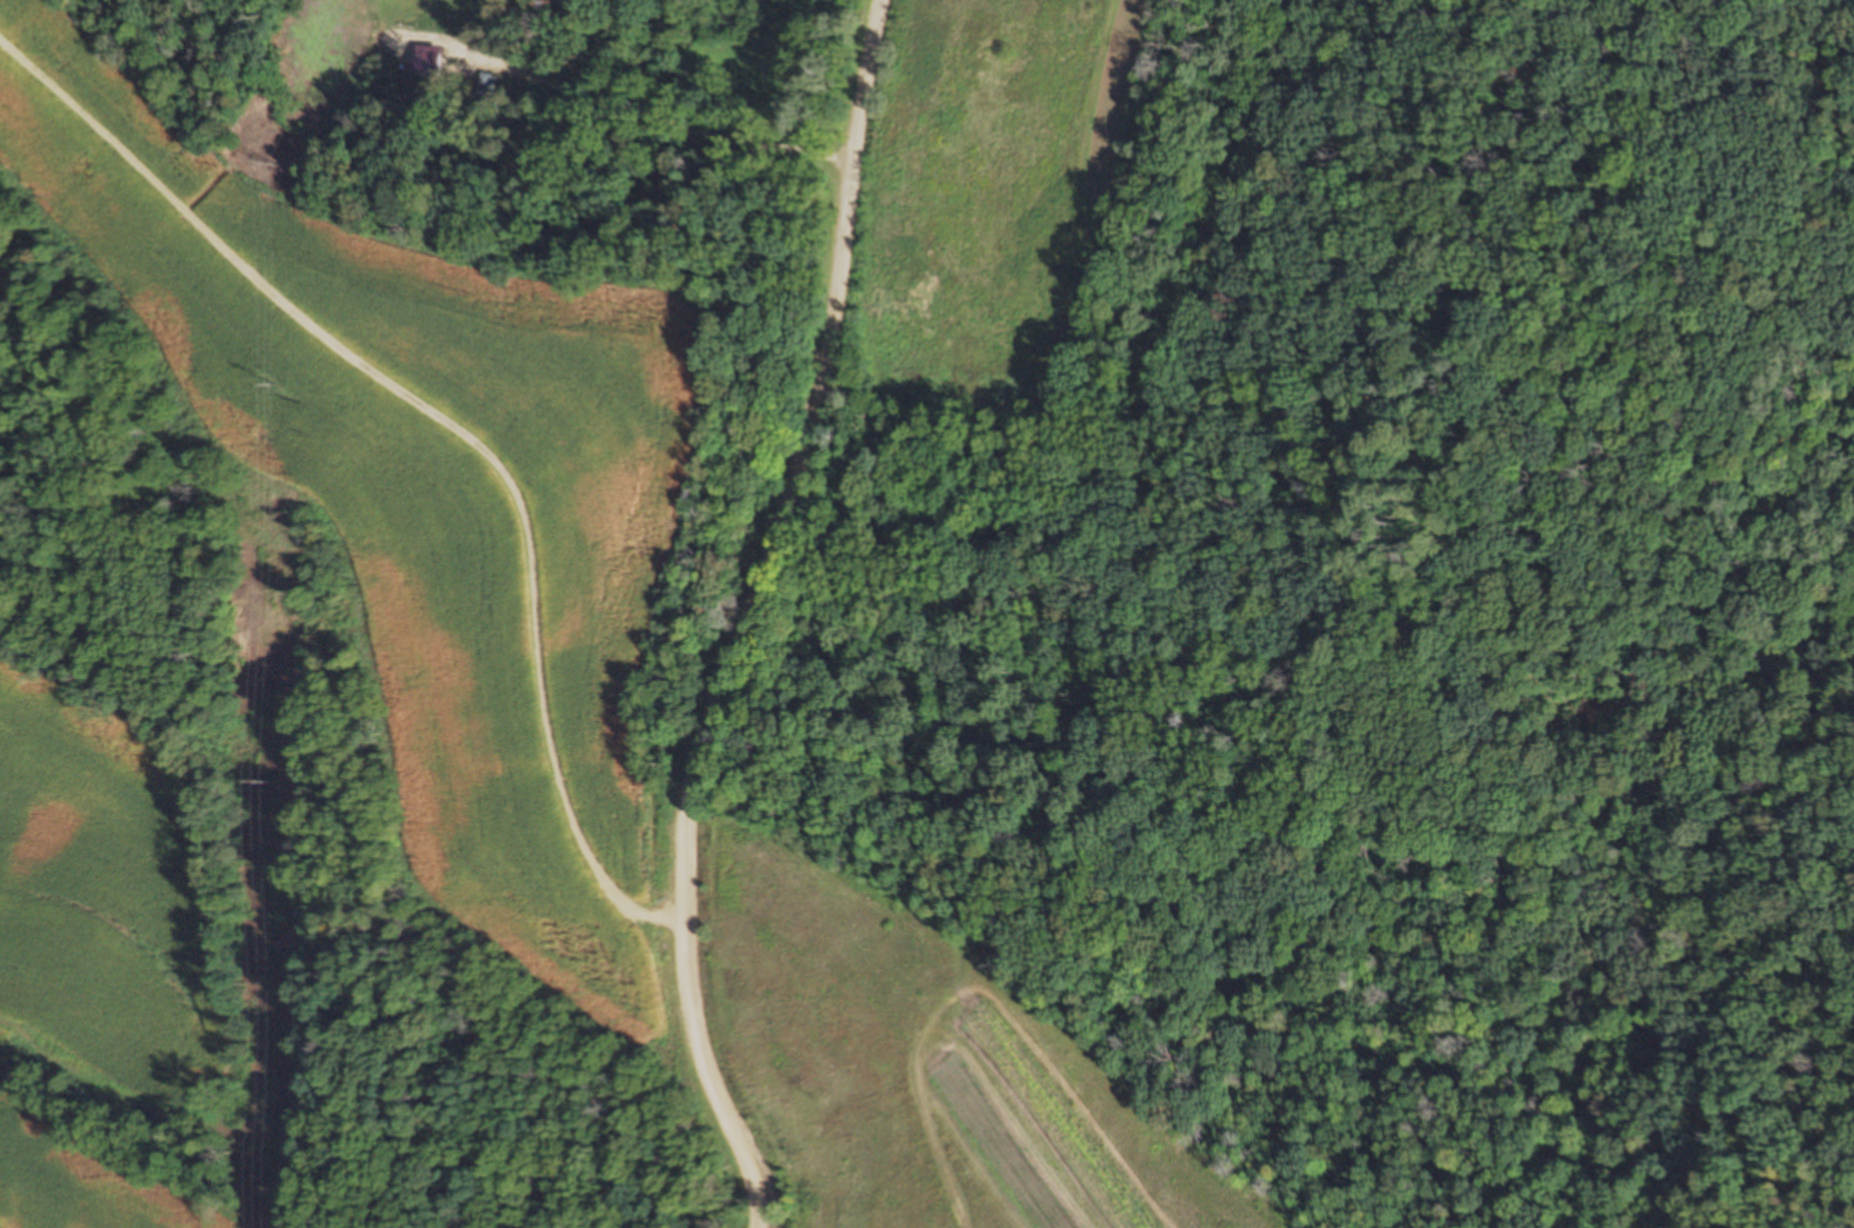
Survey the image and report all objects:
power tower: (273, 164)
road: (738, 607)
power tower: (270, 782)

